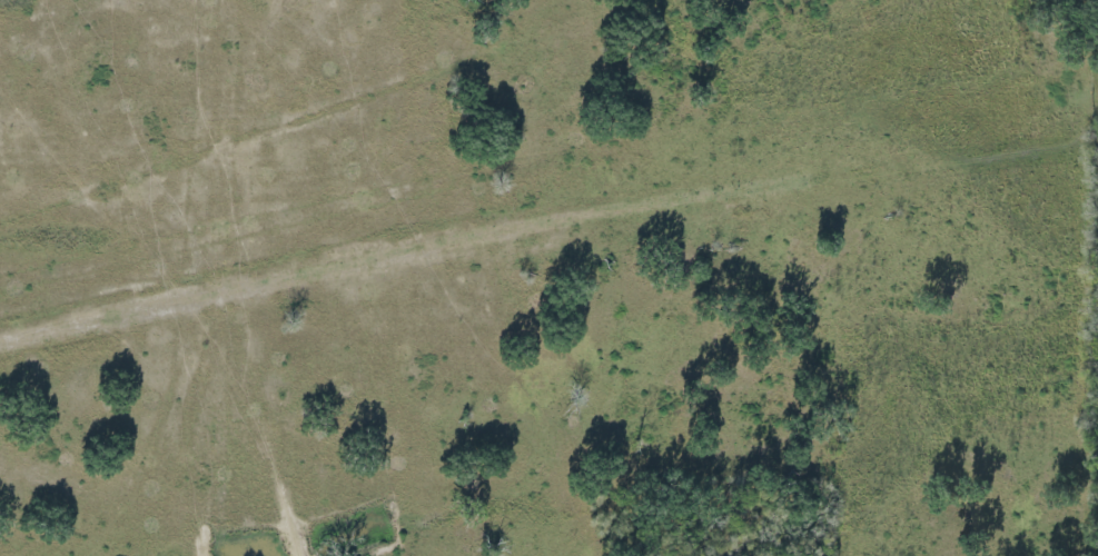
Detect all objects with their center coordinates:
road: (37, 147)

